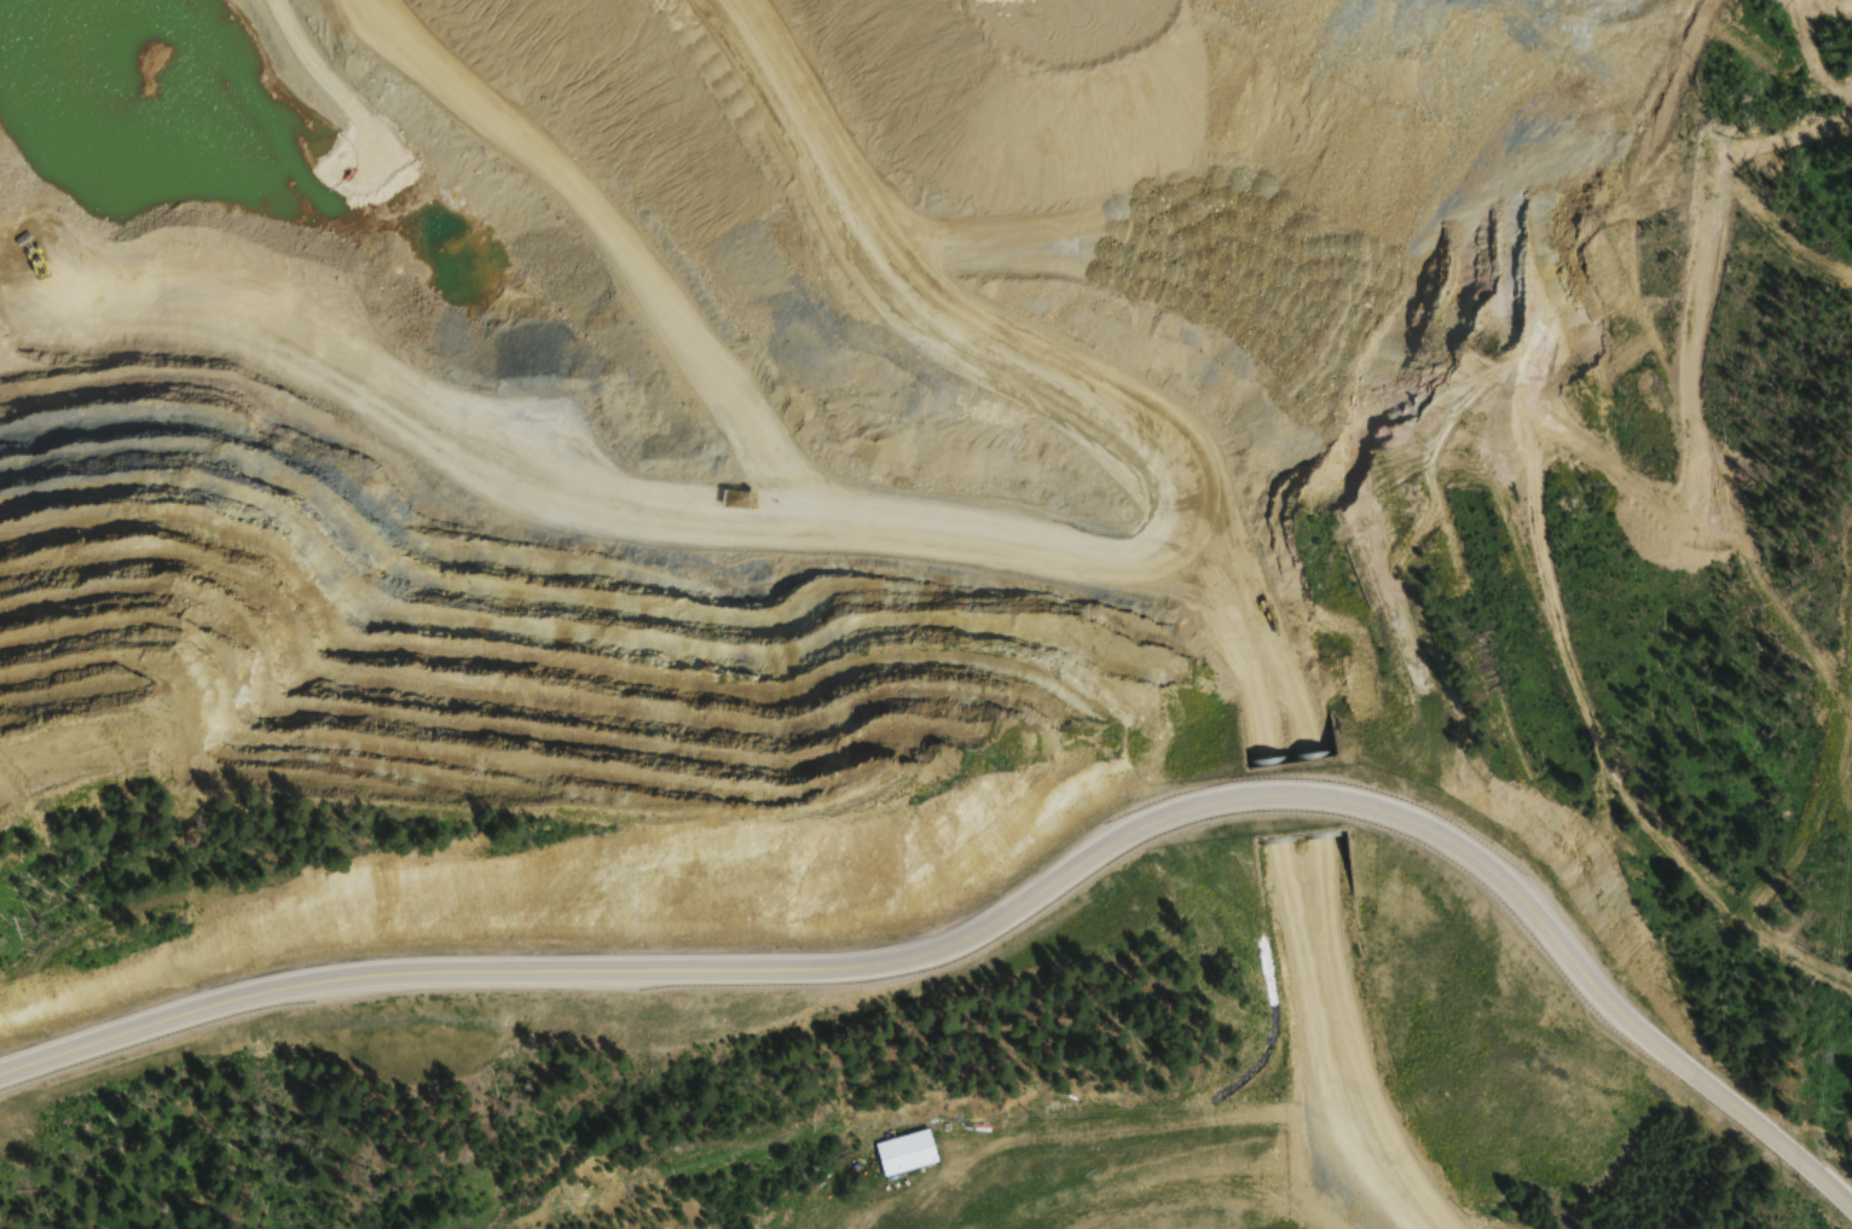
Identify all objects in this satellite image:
quarry: (403, 487)
road: (1005, 906)
building: (905, 1154)

